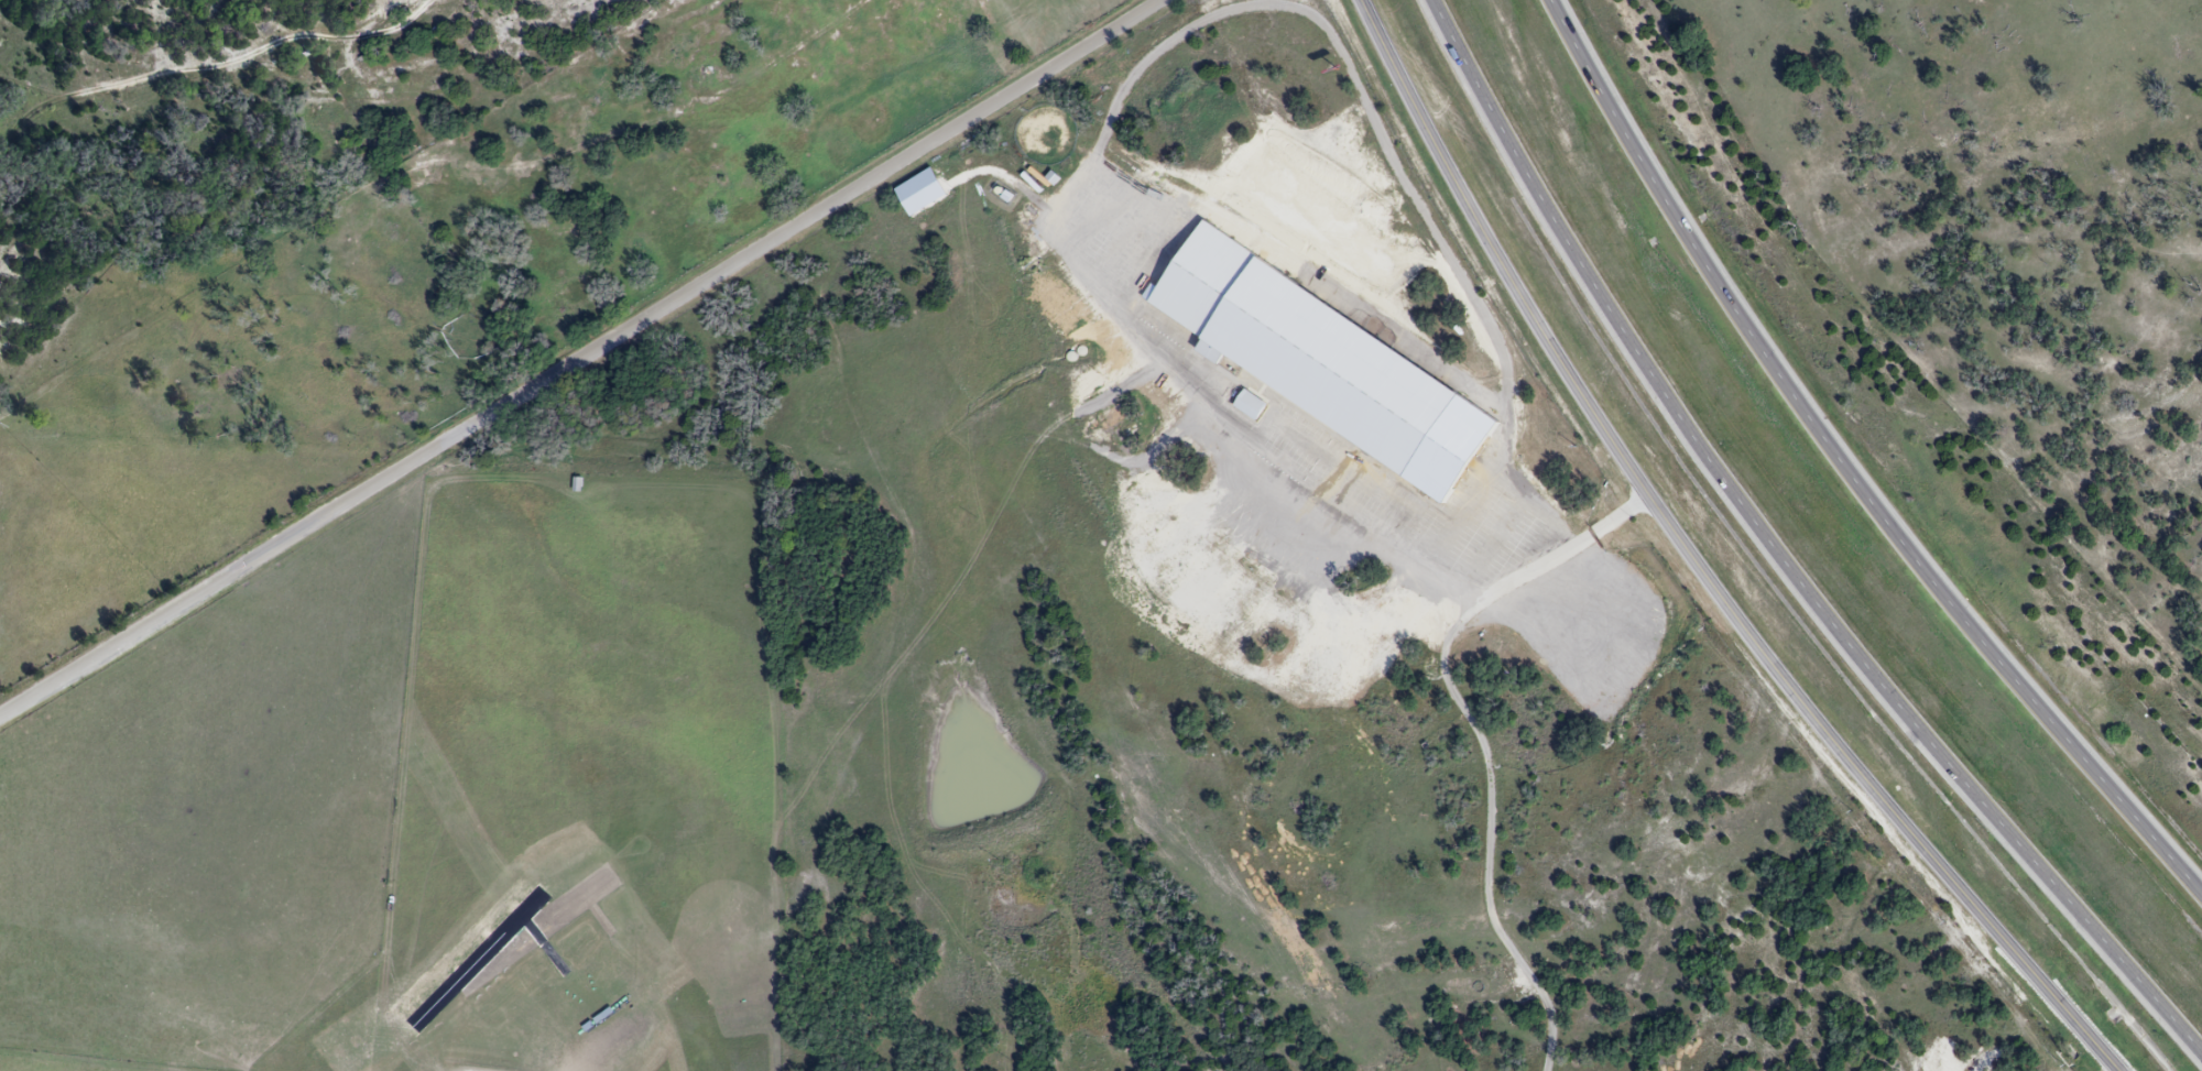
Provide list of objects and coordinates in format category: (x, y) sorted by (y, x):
building: (979, 13)
road: (1112, 141)
road: (581, 357)
road: (1849, 469)
road: (1777, 557)
road: (1700, 566)

